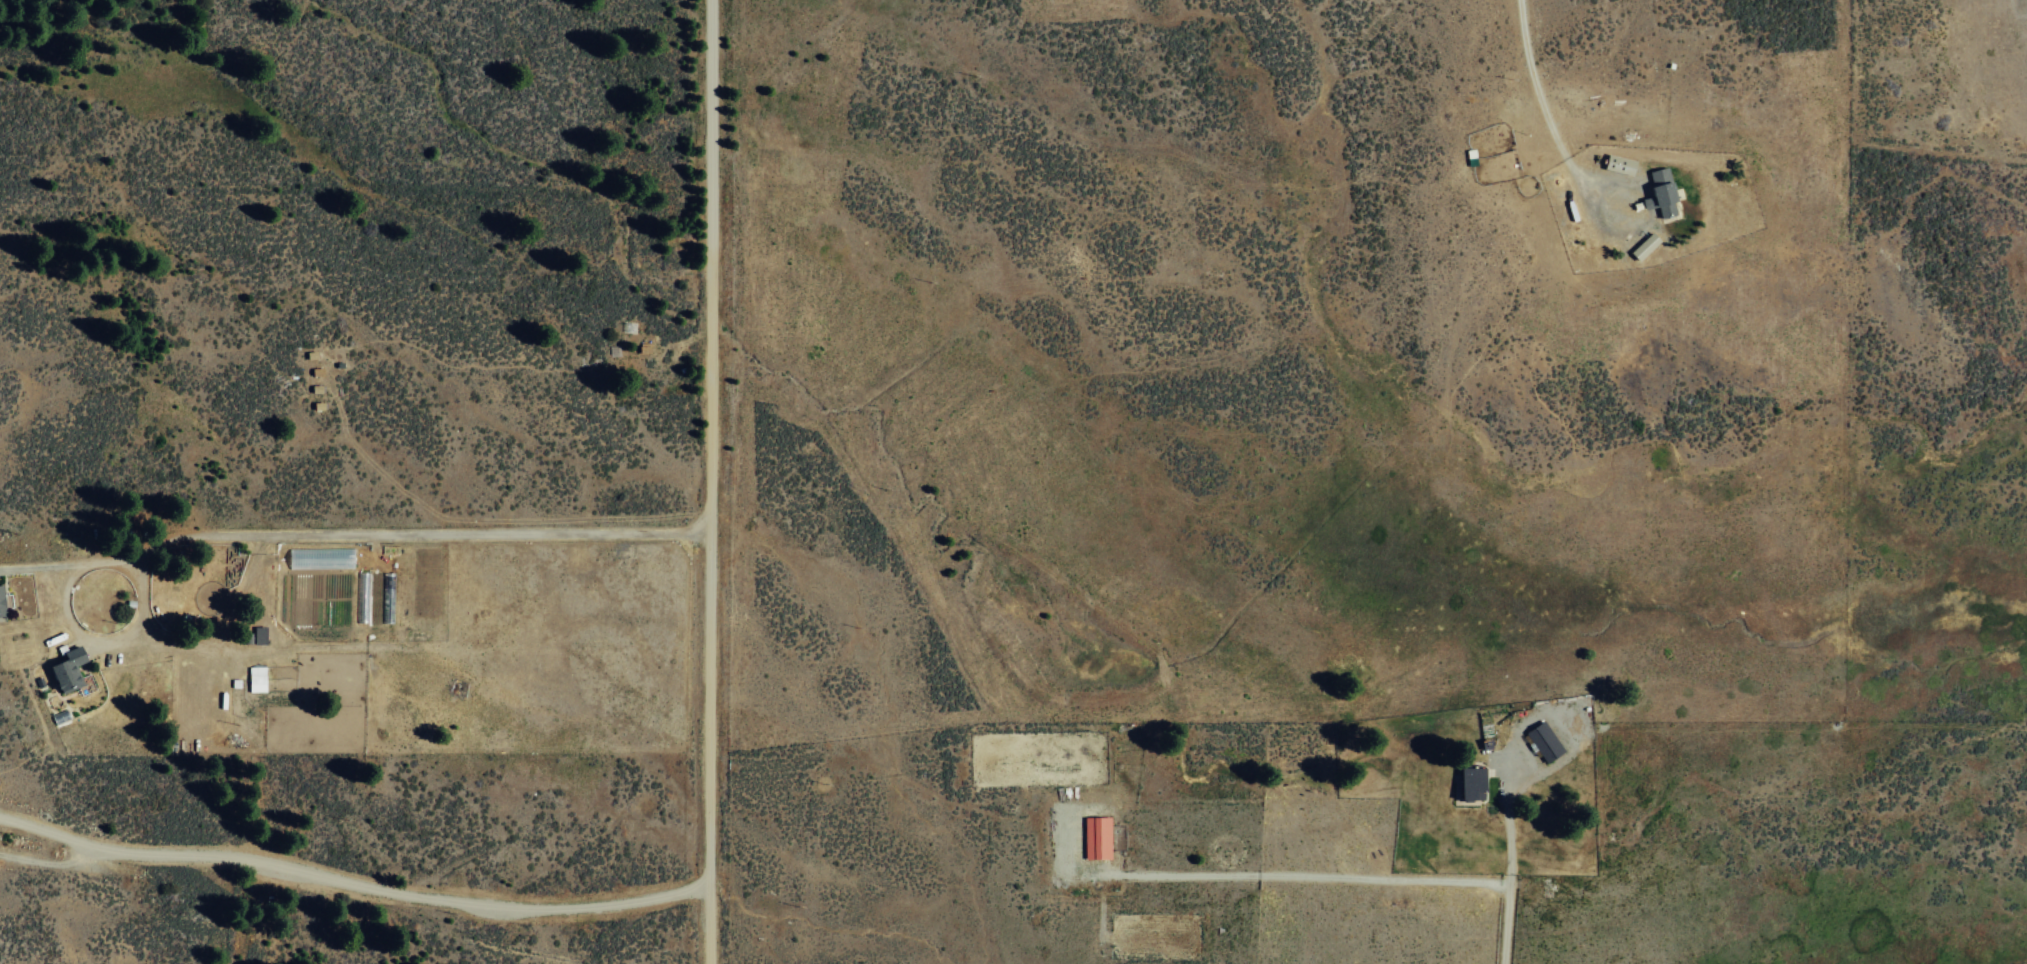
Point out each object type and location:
road: (1543, 112)
building: (1617, 165)
building: (1659, 193)
building: (1643, 246)
crop: (1175, 455)
road: (712, 482)
building: (0, 602)
building: (254, 636)
building: (66, 669)
building: (255, 678)
building: (1541, 741)
building: (1470, 782)
building: (1095, 837)

